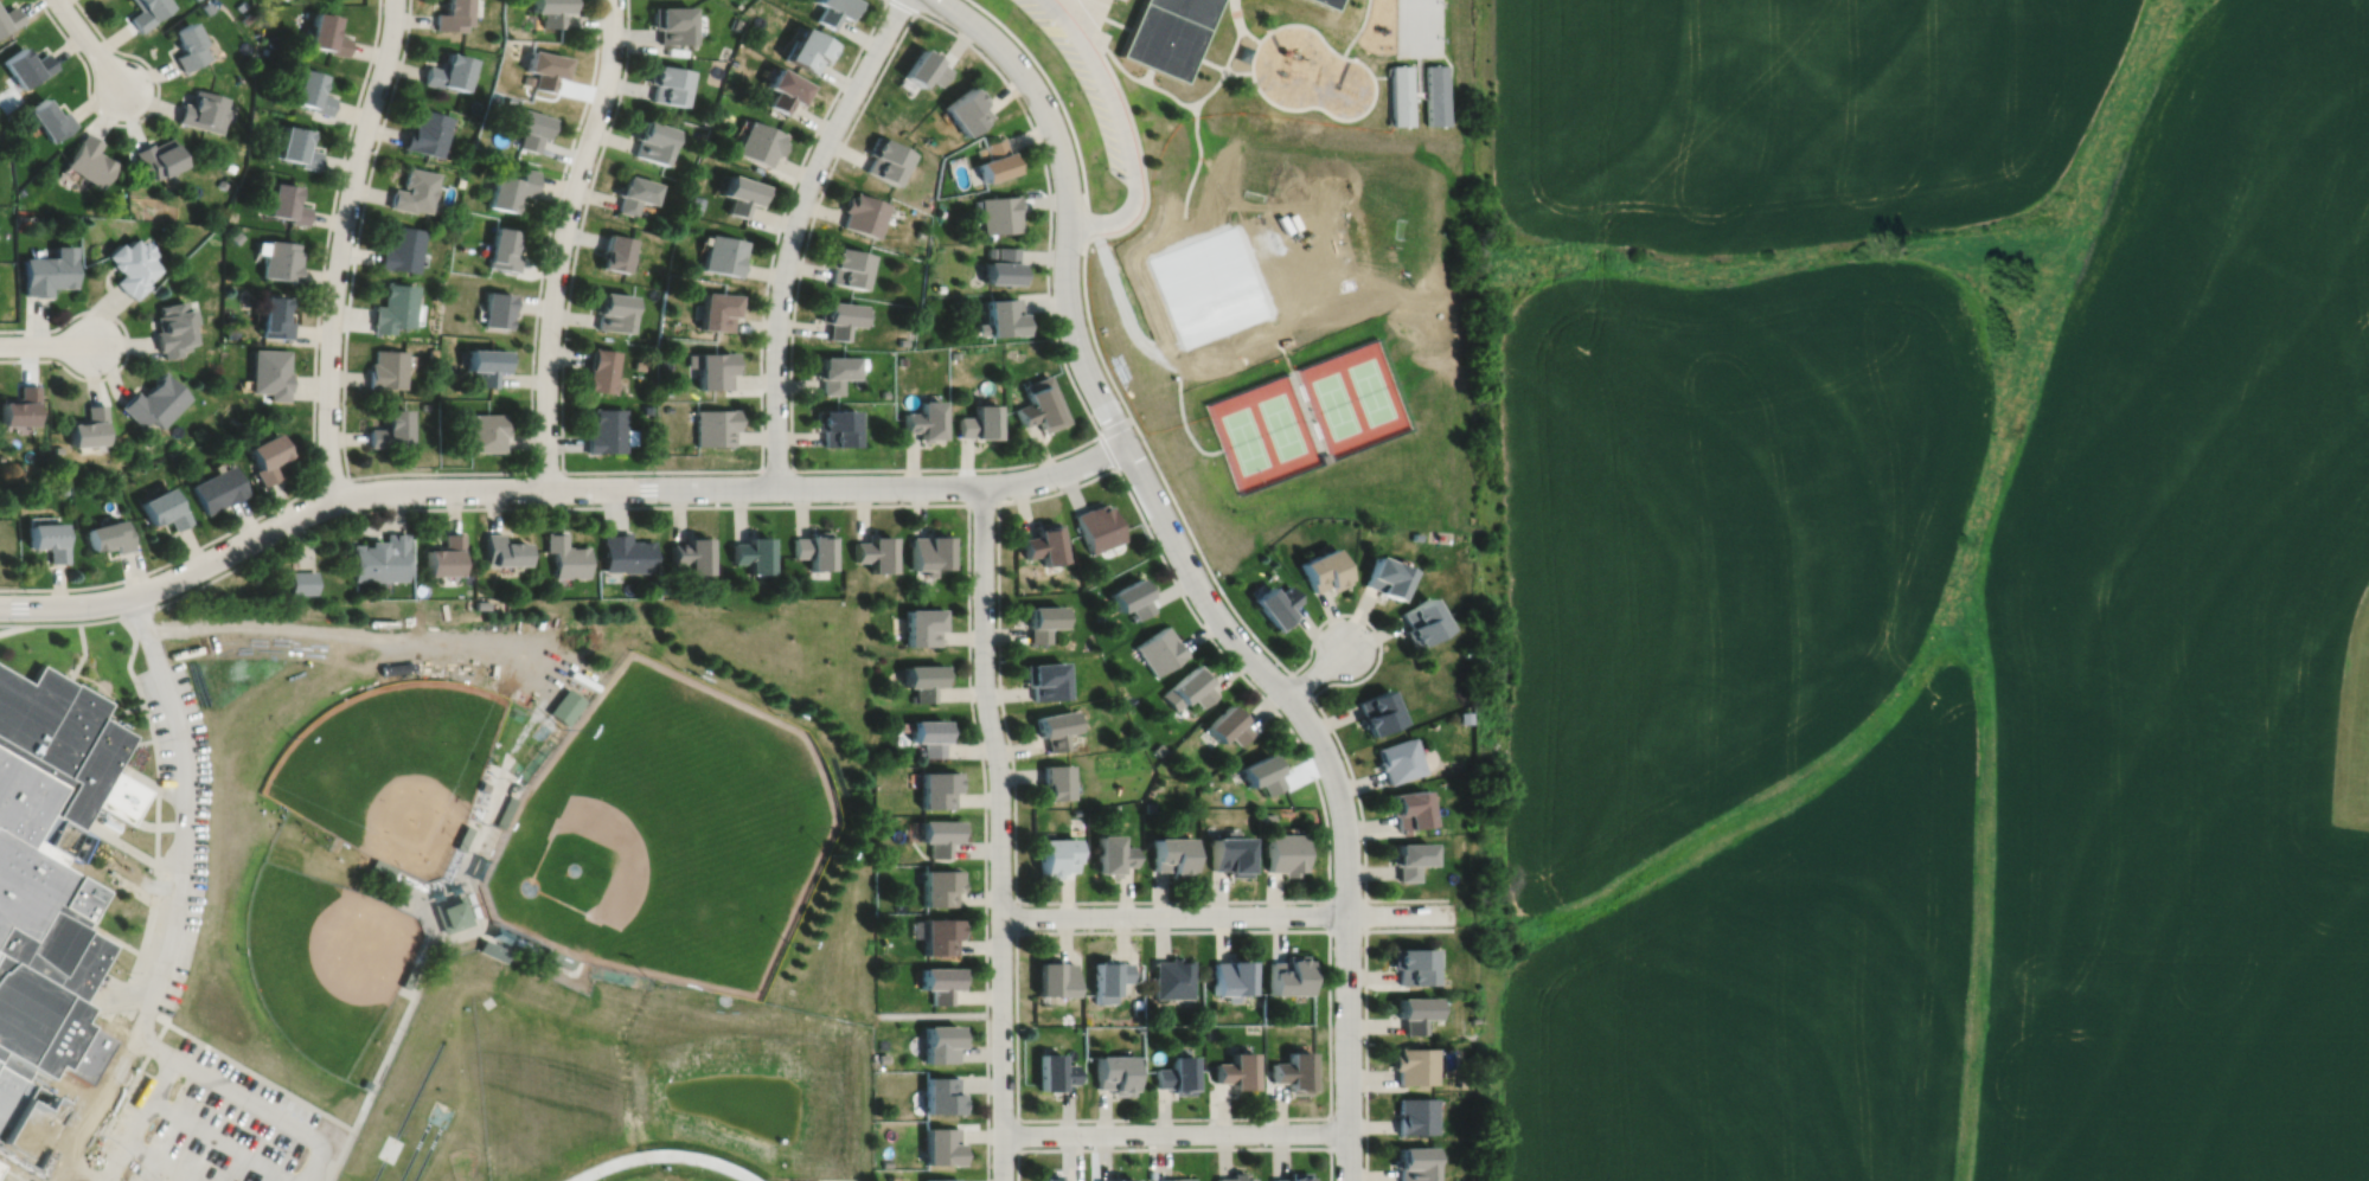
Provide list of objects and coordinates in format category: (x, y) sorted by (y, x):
building: (1327, 2)
building: (241, 4)
road: (903, 5)
building: (207, 6)
building: (146, 11)
building: (551, 11)
building: (833, 11)
building: (450, 15)
building: (8, 17)
building: (246, 17)
building: (672, 21)
road: (1358, 28)
road: (1248, 32)
building: (327, 33)
building: (1166, 33)
road: (89, 43)
building: (187, 44)
building: (808, 47)
building: (264, 49)
road: (1351, 57)
road: (1228, 58)
building: (25, 64)
building: (546, 66)
building: (924, 66)
building: (447, 70)
road: (1147, 73)
building: (667, 82)
parking lot: (1081, 83)
building: (785, 88)
building: (312, 90)
building: (1400, 92)
building: (1435, 92)
road: (1061, 107)
building: (967, 108)
building: (203, 110)
building: (255, 114)
building: (47, 118)
road: (133, 120)
road: (1121, 126)
building: (531, 127)
building: (424, 131)
building: (653, 140)
building: (758, 142)
building: (295, 146)
road: (840, 147)
building: (156, 156)
building: (884, 159)
building: (88, 160)
building: (995, 160)
building: (230, 166)
building: (222, 182)
building: (512, 188)
building: (412, 190)
building: (634, 193)
building: (742, 193)
building: (284, 203)
building: (863, 213)
building: (999, 213)
road: (780, 223)
road: (1186, 230)
road: (793, 231)
road: (549, 232)
road: (578, 232)
building: (236, 236)
road: (357, 236)
road: (326, 240)
road: (563, 240)
road: (340, 246)
building: (401, 249)
building: (502, 249)
building: (615, 252)
building: (723, 253)
building: (278, 258)
building: (130, 264)
building: (846, 267)
building: (1004, 267)
building: (47, 270)
building: (392, 307)
building: (497, 309)
building: (612, 310)
building: (718, 310)
building: (274, 316)
building: (838, 317)
building: (1003, 317)
building: (172, 328)
building: (231, 332)
road: (127, 342)
road: (45, 344)
road: (1285, 354)
building: (486, 365)
building: (385, 368)
building: (711, 368)
building: (600, 371)
building: (270, 372)
building: (833, 372)
park: (1370, 390)
building: (1301, 391)
building: (153, 402)
park: (1336, 404)
building: (1041, 405)
building: (19, 406)
building: (923, 421)
building: (978, 423)
park: (1281, 425)
building: (715, 426)
building: (834, 426)
building: (88, 428)
building: (1315, 428)
building: (388, 429)
building: (604, 431)
building: (484, 432)
road: (1100, 434)
park: (1244, 438)
building: (57, 449)
building: (1, 457)
building: (265, 457)
road: (1131, 457)
building: (1323, 457)
road: (383, 473)
building: (63, 487)
road: (553, 487)
building: (217, 489)
road: (982, 502)
road: (812, 503)
building: (162, 509)
building: (1097, 524)
building: (1415, 533)
building: (108, 537)
building: (1045, 540)
building: (47, 541)
building: (814, 546)
building: (504, 547)
building: (876, 550)
building: (930, 550)
building: (626, 551)
building: (692, 551)
building: (753, 551)
building: (446, 552)
building: (566, 553)
building: (380, 556)
building: (1321, 567)
building: (1384, 573)
building: (301, 579)
building: (790, 586)
crop: (1935, 589)
road: (1180, 590)
building: (1133, 595)
building: (480, 603)
building: (1274, 603)
building: (1042, 618)
building: (1420, 618)
building: (924, 623)
road: (12, 625)
road: (410, 637)
building: (1160, 648)
road: (82, 652)
road: (1270, 652)
road: (1317, 672)
road: (132, 676)
building: (924, 678)
building: (1045, 678)
road: (1301, 683)
road: (100, 685)
building: (1190, 686)
building: (1131, 698)
building: (565, 704)
building: (1377, 711)
building: (1465, 715)
building: (1229, 723)
building: (1056, 726)
building: (930, 733)
road: (139, 740)
building: (1159, 747)
building: (1397, 758)
park: (391, 766)
building: (1263, 771)
building: (1057, 781)
road: (149, 782)
building: (484, 784)
building: (940, 787)
building: (1150, 805)
building: (1407, 807)
building: (505, 810)
building: (1269, 816)
road: (1000, 832)
park: (666, 833)
building: (941, 834)
building: (462, 835)
parking lot: (198, 837)
building: (488, 840)
road: (132, 847)
building: (1286, 852)
building: (1113, 853)
building: (1172, 854)
building: (1230, 854)
building: (1056, 855)
building: (1408, 858)
building: (49, 864)
building: (479, 864)
road: (466, 865)
building: (382, 866)
building: (453, 866)
road: (412, 875)
building: (409, 879)
building: (940, 886)
building: (469, 892)
building: (378, 894)
road: (177, 898)
road: (479, 898)
road: (1372, 898)
building: (409, 903)
building: (472, 904)
road: (404, 907)
building: (452, 912)
road: (1227, 914)
road: (482, 930)
road: (1140, 930)
building: (942, 933)
road: (107, 935)
building: (517, 938)
building: (492, 950)
building: (420, 951)
road: (140, 952)
building: (558, 956)
park: (324, 959)
building: (1410, 964)
building: (408, 974)
building: (1292, 975)
building: (1056, 977)
building: (1173, 977)
building: (1234, 977)
building: (1109, 978)
building: (941, 981)
building: (466, 1006)
road: (928, 1013)
building: (1411, 1013)
building: (1473, 1019)
road: (204, 1042)
building: (942, 1042)
road: (154, 1045)
road: (1347, 1047)
road: (386, 1052)
building: (882, 1057)
building: (1413, 1065)
building: (1237, 1070)
building: (1295, 1071)
road: (203, 1072)
building: (1055, 1072)
building: (1115, 1073)
building: (1177, 1074)
park: (546, 1078)
building: (1464, 1081)
building: (943, 1096)
park: (544, 1098)
park: (438, 1112)
building: (1414, 1115)
road: (1267, 1117)
track: (402, 1122)
parking lot: (207, 1127)
road: (1174, 1131)
road: (1330, 1131)
road: (1018, 1134)
road: (219, 1140)
building: (942, 1145)
road: (1174, 1147)
park: (414, 1150)
park: (427, 1151)
road: (161, 1161)
building: (886, 1162)
building: (1413, 1163)
building: (1295, 1176)
building: (1050, 1177)
building: (1236, 1177)
road: (20, 1179)
building: (942, 1179)
building: (1118, 1180)
building: (1174, 1180)

